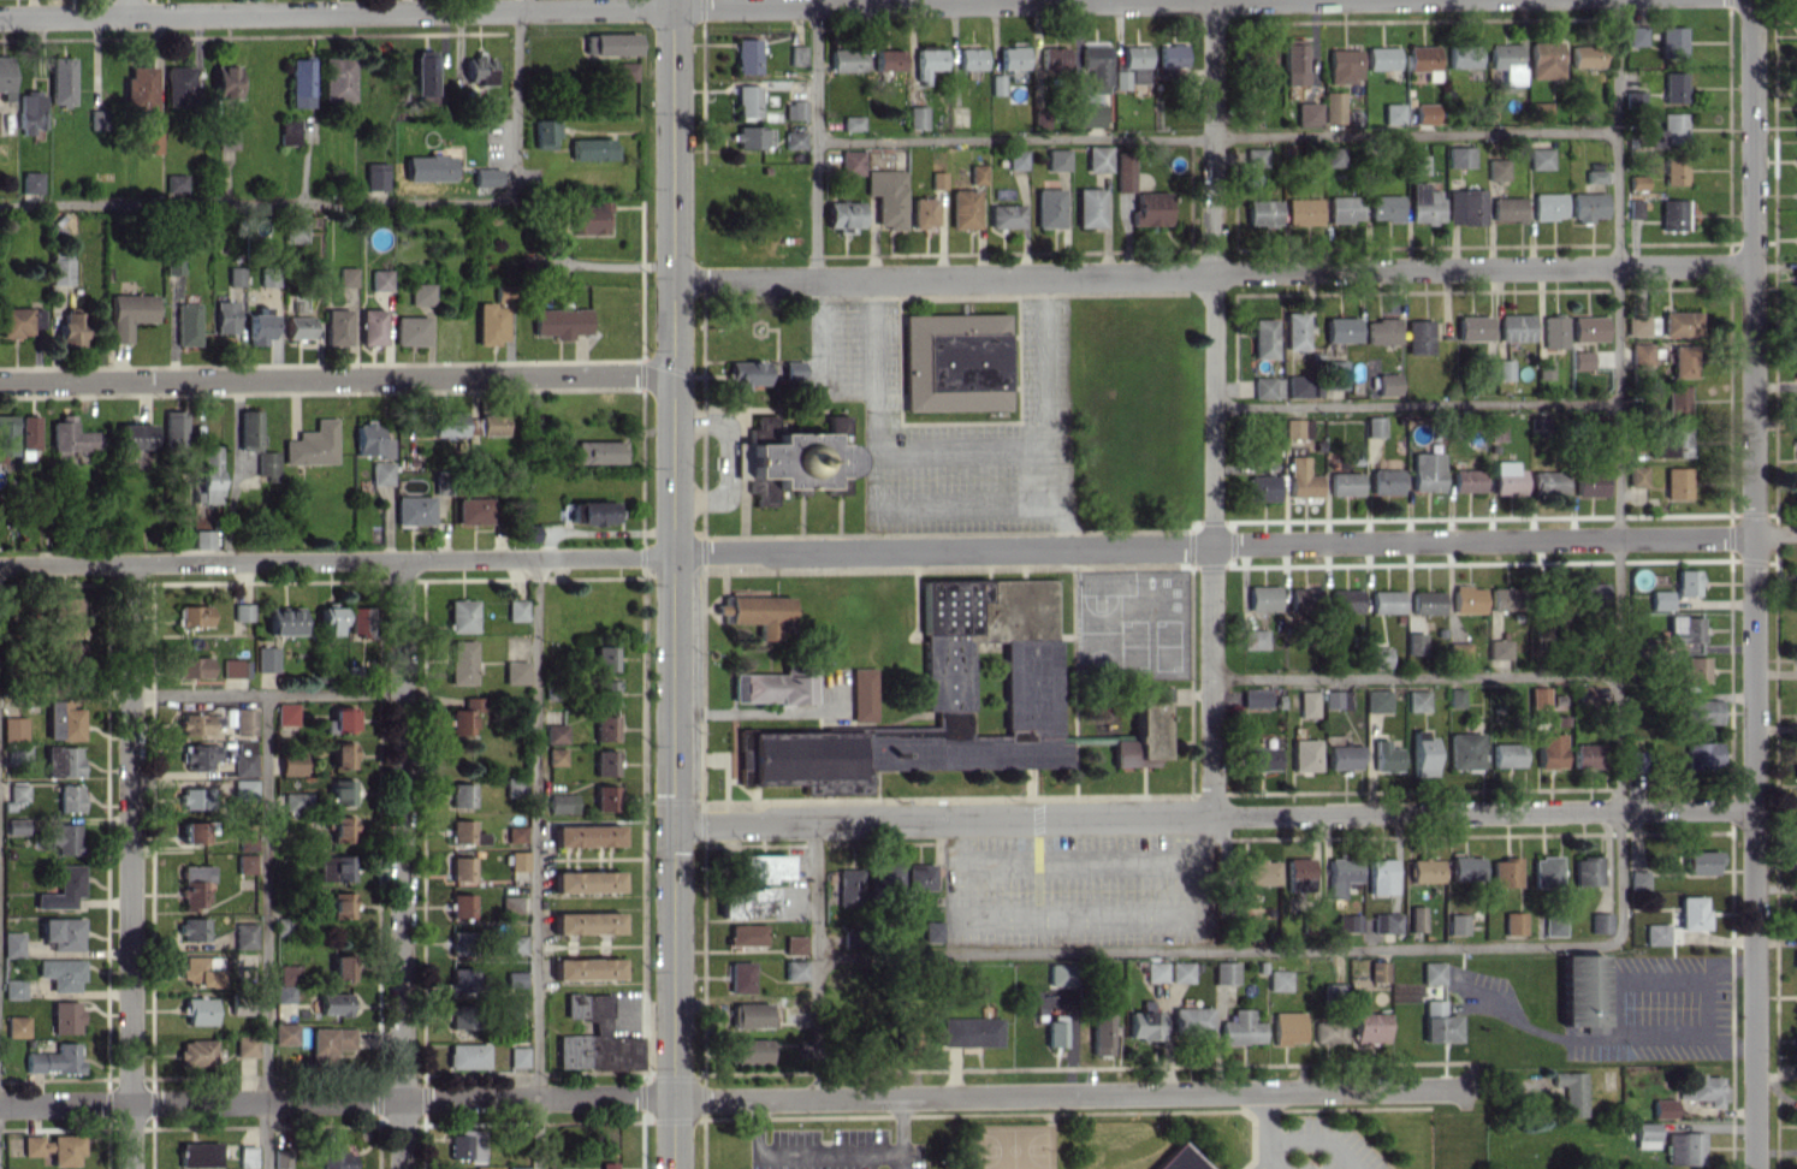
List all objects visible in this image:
road: (529, 5)
road: (130, 7)
road: (567, 8)
building: (1636, 35)
building: (1672, 41)
building: (610, 43)
building: (796, 54)
building: (1464, 54)
building: (746, 55)
building: (1172, 55)
building: (1585, 55)
building: (1012, 57)
building: (1052, 57)
building: (971, 58)
building: (1381, 58)
building: (844, 59)
building: (888, 59)
building: (1546, 59)
building: (1292, 60)
building: (1424, 60)
building: (1507, 60)
building: (927, 61)
building: (1135, 63)
building: (1344, 65)
building: (479, 69)
building: (627, 70)
building: (423, 76)
building: (5, 77)
building: (337, 79)
building: (1120, 79)
building: (60, 81)
building: (225, 81)
building: (299, 82)
building: (179, 84)
building: (1672, 87)
building: (138, 89)
building: (747, 100)
building: (486, 106)
building: (1333, 107)
building: (794, 109)
building: (30, 111)
building: (1541, 111)
building: (1393, 112)
building: (1425, 112)
building: (1307, 113)
building: (1090, 114)
building: (917, 117)
building: (96, 118)
building: (852, 121)
building: (1670, 130)
building: (287, 131)
building: (544, 132)
road: (1217, 136)
building: (226, 138)
building: (793, 138)
building: (149, 141)
road: (816, 141)
building: (592, 148)
building: (1460, 155)
building: (1255, 156)
building: (1333, 156)
building: (1097, 158)
building: (1540, 158)
building: (1016, 159)
building: (1056, 159)
building: (850, 161)
building: (1418, 164)
building: (428, 167)
building: (1496, 168)
building: (1674, 170)
building: (1123, 171)
building: (977, 173)
building: (375, 176)
building: (1595, 176)
building: (485, 177)
building: (30, 182)
building: (1636, 182)
building: (174, 184)
building: (886, 196)
road: (348, 202)
building: (1424, 203)
building: (1548, 204)
building: (1089, 206)
building: (1465, 206)
building: (1588, 206)
building: (1048, 207)
building: (1384, 207)
building: (1635, 207)
building: (962, 208)
building: (1150, 208)
building: (1344, 208)
building: (1507, 208)
building: (1262, 210)
building: (1301, 210)
building: (923, 212)
building: (842, 214)
building: (1004, 214)
building: (1673, 214)
building: (585, 218)
building: (295, 227)
road: (1002, 251)
road: (1190, 254)
building: (173, 262)
building: (60, 267)
road: (1211, 273)
building: (235, 275)
building: (346, 275)
road: (1190, 275)
building: (268, 277)
building: (1795, 277)
road: (641, 278)
building: (380, 279)
road: (701, 287)
building: (420, 293)
road: (949, 295)
building: (129, 313)
building: (225, 316)
building: (20, 321)
building: (559, 321)
building: (490, 322)
building: (1679, 322)
building: (186, 324)
building: (1641, 324)
building: (297, 326)
building: (337, 326)
building: (372, 326)
building: (1516, 326)
building: (260, 327)
flagpole: (757, 327)
building: (1472, 327)
building: (1588, 327)
building: (69, 328)
building: (1340, 328)
building: (410, 330)
building: (1294, 330)
building: (1382, 331)
building: (1553, 331)
building: (1796, 331)
road: (816, 332)
building: (1418, 336)
road: (775, 337)
building: (1263, 338)
building: (1641, 354)
road: (758, 358)
building: (953, 360)
building: (1580, 360)
road: (873, 361)
building: (1682, 361)
road: (665, 367)
building: (1504, 368)
building: (1796, 368)
building: (793, 369)
building: (747, 373)
road: (641, 374)
road: (708, 374)
building: (1334, 374)
road: (336, 376)
building: (1387, 384)
building: (1267, 386)
building: (1299, 386)
road: (811, 396)
building: (1677, 399)
road: (1415, 404)
road: (782, 408)
road: (1211, 408)
road: (799, 416)
road: (701, 417)
building: (447, 423)
building: (491, 423)
building: (1374, 426)
building: (1537, 426)
building: (173, 427)
building: (1295, 427)
building: (248, 429)
building: (1495, 429)
building: (6, 434)
building: (26, 435)
building: (71, 435)
building: (135, 435)
building: (370, 440)
building: (1670, 440)
building: (1796, 440)
building: (313, 444)
road: (905, 445)
road: (740, 450)
building: (597, 451)
road: (743, 458)
building: (796, 458)
road: (729, 459)
building: (267, 465)
road: (641, 467)
road: (1618, 469)
building: (1425, 470)
road: (1046, 471)
building: (381, 473)
building: (209, 475)
building: (1636, 475)
building: (1300, 477)
building: (1506, 477)
building: (1466, 480)
building: (1384, 481)
building: (1547, 481)
building: (1677, 481)
building: (1344, 482)
building: (1590, 483)
building: (1795, 483)
building: (1262, 487)
road: (230, 506)
building: (414, 509)
building: (473, 510)
building: (592, 511)
road: (837, 514)
road: (799, 515)
road: (1212, 520)
road: (1228, 520)
road: (1192, 521)
road: (1232, 524)
building: (527, 532)
road: (945, 532)
building: (202, 539)
road: (1234, 541)
road: (1232, 542)
road: (1190, 545)
road: (702, 550)
road: (641, 556)
road: (337, 559)
road: (1232, 562)
road: (1209, 565)
road: (1228, 565)
road: (948, 568)
road: (986, 572)
road: (1022, 572)
building: (1686, 581)
road: (672, 583)
road: (1752, 584)
building: (1590, 593)
building: (1262, 597)
building: (1467, 598)
building: (1504, 598)
building: (1301, 599)
building: (1344, 599)
building: (1660, 599)
building: (1384, 600)
building: (1425, 601)
road: (914, 605)
building: (753, 609)
building: (515, 610)
building: (242, 611)
building: (191, 615)
building: (461, 615)
building: (65, 616)
building: (330, 618)
building: (284, 619)
building: (358, 621)
road: (1072, 622)
building: (1684, 629)
park: (1098, 631)
road: (1062, 634)
building: (1253, 637)
building: (1413, 642)
park: (1166, 643)
park: (1133, 645)
building: (1497, 648)
building: (1458, 651)
building: (604, 657)
building: (1378, 657)
building: (266, 658)
building: (461, 661)
building: (192, 666)
building: (235, 667)
building: (1694, 669)
building: (514, 671)
road: (1415, 676)
road: (1190, 677)
road: (701, 687)
building: (775, 687)
building: (607, 693)
building: (862, 693)
building: (1585, 693)
road: (266, 695)
building: (1255, 696)
building: (1454, 696)
building: (1538, 696)
building: (939, 698)
building: (1335, 699)
building: (1376, 700)
building: (1417, 700)
building: (1306, 702)
building: (1697, 711)
building: (286, 713)
building: (463, 716)
building: (63, 720)
building: (244, 720)
building: (340, 720)
building: (198, 722)
building: (604, 726)
building: (13, 728)
building: (1141, 729)
building: (554, 732)
road: (1073, 736)
building: (1549, 749)
building: (1464, 750)
building: (1421, 753)
building: (1303, 754)
building: (1506, 754)
building: (1700, 754)
building: (197, 755)
building: (342, 755)
building: (556, 755)
building: (1587, 755)
building: (1342, 756)
building: (1384, 756)
road: (718, 758)
building: (1259, 758)
building: (61, 760)
building: (244, 762)
building: (291, 762)
building: (604, 762)
building: (1796, 767)
road: (723, 778)
flagpole: (1050, 779)
road: (1141, 779)
road: (1027, 782)
building: (514, 785)
building: (243, 789)
building: (18, 791)
building: (340, 791)
building: (461, 794)
road: (1209, 794)
building: (604, 796)
road: (947, 796)
building: (69, 797)
building: (194, 797)
road: (1036, 799)
road: (648, 800)
road: (675, 800)
building: (297, 802)
building: (562, 802)
road: (1211, 815)
road: (1036, 818)
road: (642, 824)
building: (17, 825)
road: (701, 825)
building: (342, 827)
building: (191, 831)
building: (464, 832)
building: (515, 833)
building: (585, 835)
building: (65, 837)
building: (247, 842)
road: (829, 842)
building: (1796, 849)
road: (1036, 853)
road: (1085, 858)
building: (517, 860)
building: (1700, 861)
building: (245, 862)
road: (536, 862)
road: (402, 864)
road: (130, 866)
building: (760, 866)
building: (333, 867)
building: (1465, 867)
building: (461, 868)
building: (1422, 870)
building: (1585, 870)
building: (1258, 871)
building: (1544, 871)
building: (1504, 872)
building: (1298, 873)
building: (1339, 874)
building: (918, 876)
building: (1380, 876)
building: (1637, 879)
building: (586, 880)
building: (194, 885)
road: (1037, 886)
building: (848, 888)
building: (63, 889)
building: (745, 902)
building: (510, 903)
building: (340, 904)
building: (461, 906)
road: (1037, 909)
building: (1691, 912)
road: (1077, 914)
building: (1416, 918)
building: (586, 921)
building: (1346, 921)
building: (1599, 921)
building: (1309, 922)
building: (1384, 922)
building: (1513, 922)
building: (1457, 924)
building: (1553, 924)
building: (192, 928)
building: (931, 930)
road: (266, 931)
building: (61, 932)
building: (1656, 933)
building: (244, 934)
building: (745, 934)
building: (459, 943)
building: (12, 944)
building: (515, 944)
building: (794, 944)
road: (1217, 948)
road: (816, 959)
road: (701, 962)
building: (342, 966)
building: (586, 968)
building: (201, 969)
building: (793, 969)
building: (1155, 971)
building: (1180, 971)
building: (1377, 971)
building: (1224, 972)
building: (1431, 972)
building: (61, 973)
building: (287, 973)
building: (1060, 974)
building: (739, 977)
building: (514, 978)
building: (1277, 980)
building: (459, 981)
building: (13, 987)
building: (1580, 989)
building: (283, 993)
building: (334, 1003)
road: (1708, 1004)
building: (511, 1009)
building: (198, 1010)
building: (748, 1014)
building: (65, 1016)
building: (459, 1016)
building: (1192, 1020)
building: (1437, 1022)
building: (1143, 1025)
building: (17, 1026)
building: (1286, 1027)
building: (1369, 1027)
building: (1239, 1028)
building: (1055, 1029)
building: (969, 1031)
building: (1328, 1031)
building: (1099, 1032)
building: (284, 1033)
building: (595, 1037)
building: (908, 1038)
road: (1583, 1038)
building: (1796, 1038)
building: (331, 1040)
building: (244, 1045)
building: (748, 1050)
building: (196, 1052)
building: (465, 1055)
building: (517, 1056)
building: (54, 1058)
road: (699, 1075)
road: (647, 1076)
road: (674, 1076)
building: (1700, 1087)
building: (1570, 1091)
road: (642, 1096)
road: (736, 1097)
road: (702, 1099)
building: (1662, 1108)
road: (642, 1114)
road: (702, 1116)
road: (1261, 1117)
road: (674, 1118)
road: (699, 1118)
road: (647, 1120)
road: (899, 1132)
building: (1645, 1134)
road: (1317, 1138)
building: (464, 1145)
building: (54, 1147)
building: (1683, 1147)
building: (197, 1153)
road: (801, 1153)
building: (247, 1156)
building: (334, 1157)
road: (1264, 1157)
building: (280, 1158)
building: (1178, 1159)
building: (609, 1164)
building: (449, 1168)
building: (516, 1168)

